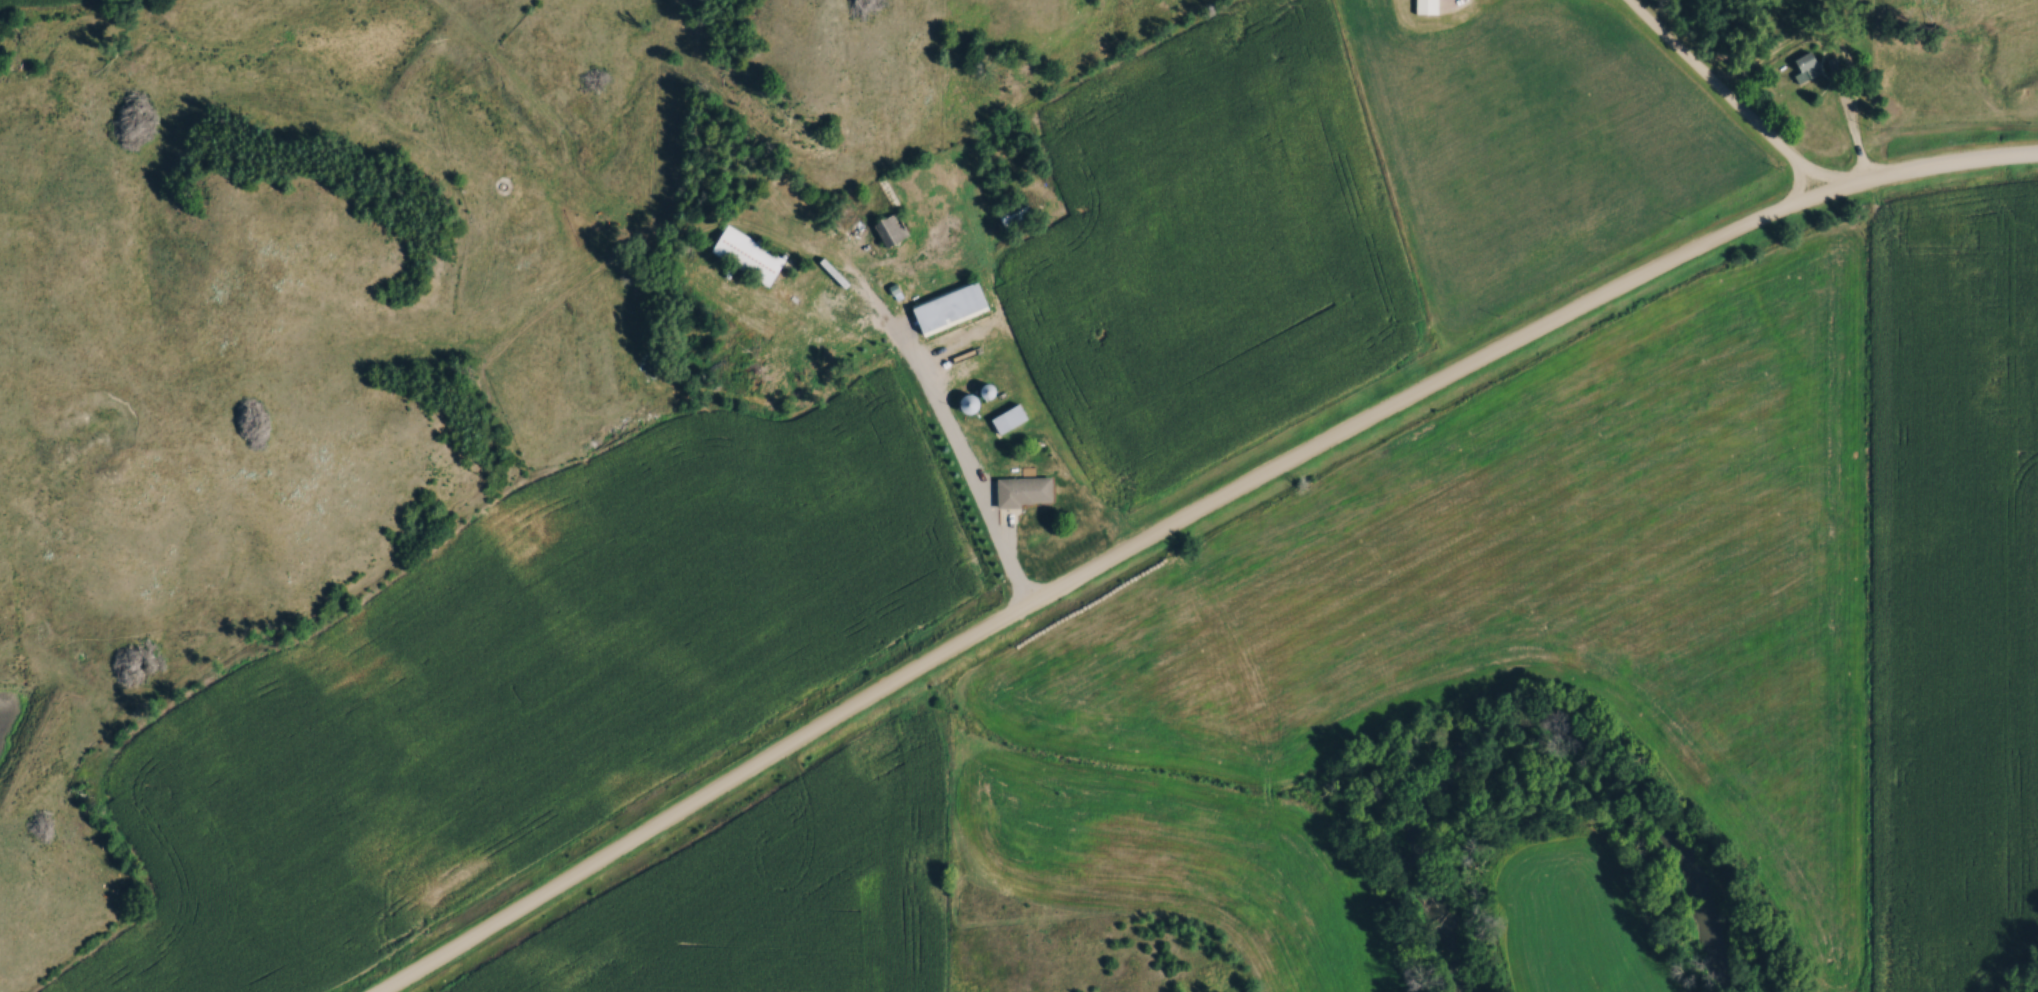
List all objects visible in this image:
building: (1427, 7)
road: (1770, 55)
building: (1803, 67)
road: (1720, 95)
road: (1848, 121)
road: (1824, 191)
building: (1012, 212)
building: (890, 232)
building: (750, 257)
building: (734, 295)
building: (950, 307)
building: (586, 369)
road: (923, 387)
building: (1011, 420)
building: (1026, 492)
road: (1189, 517)

